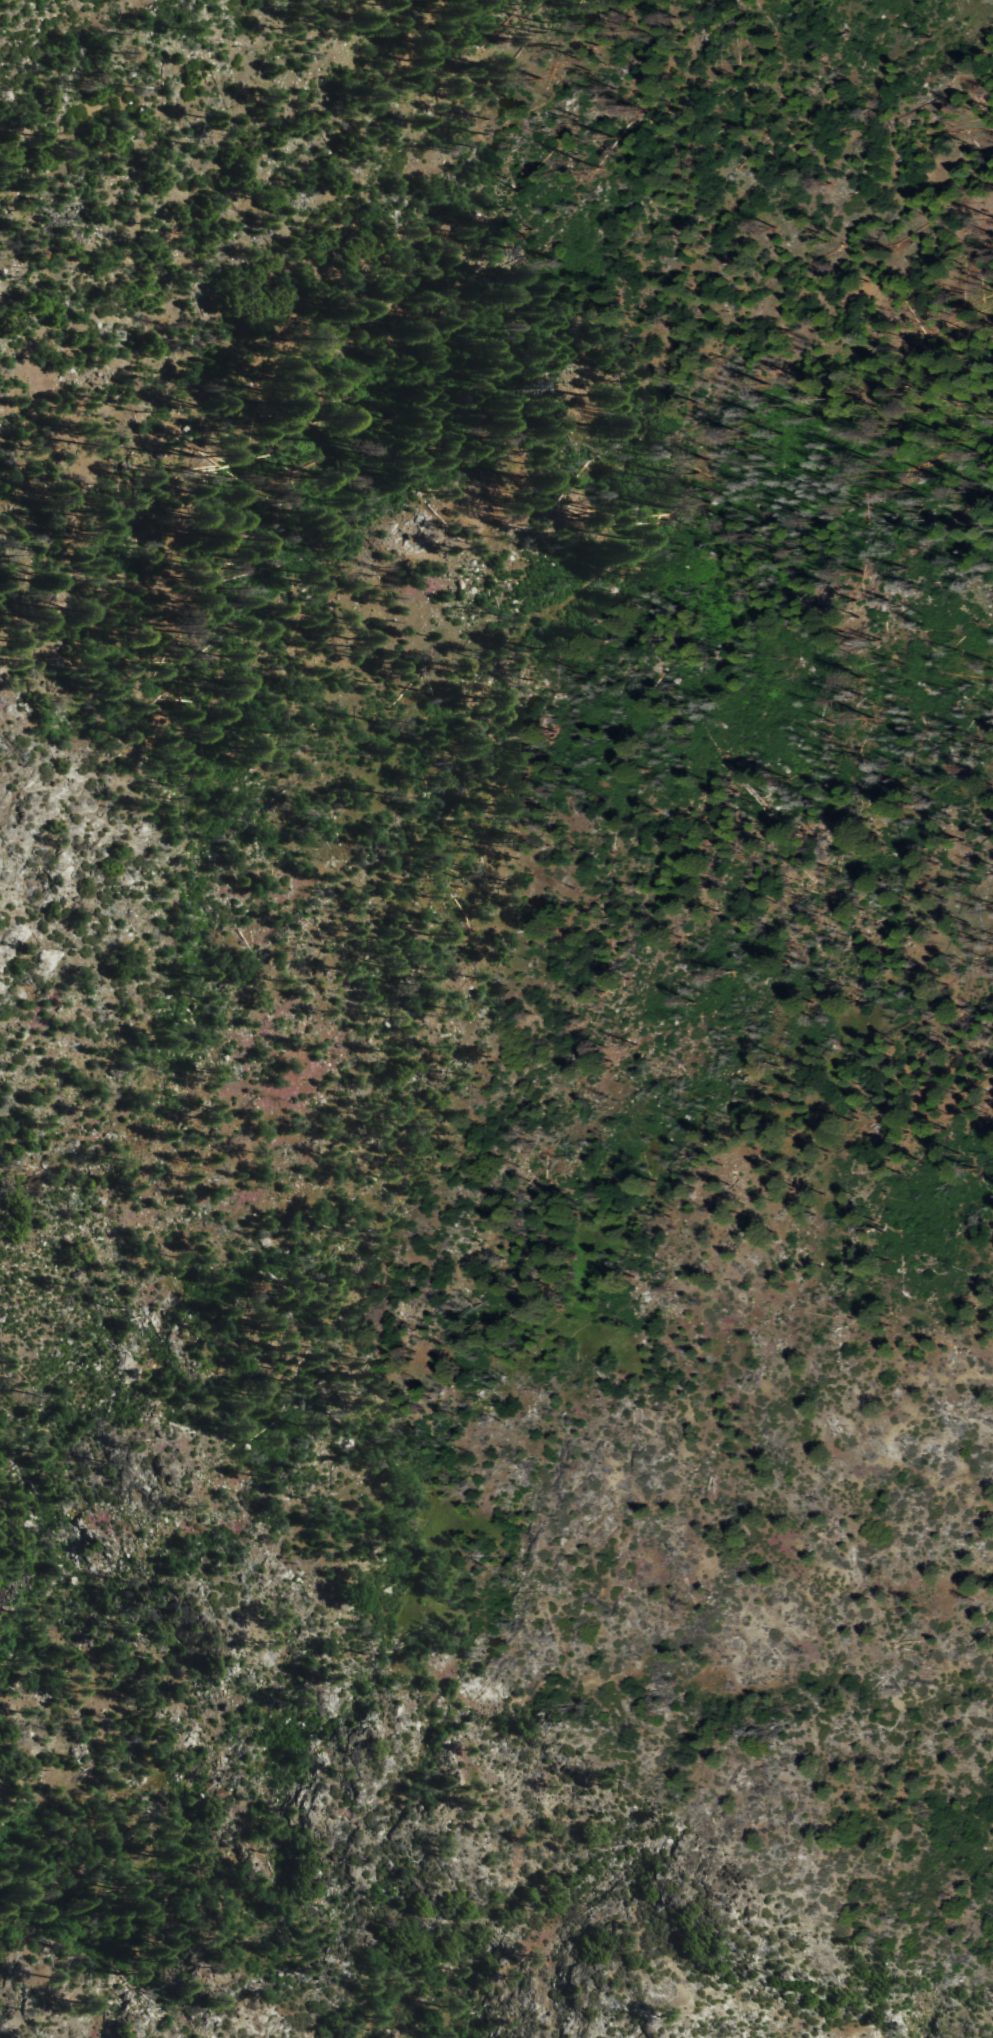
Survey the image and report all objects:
road: (501, 644)

